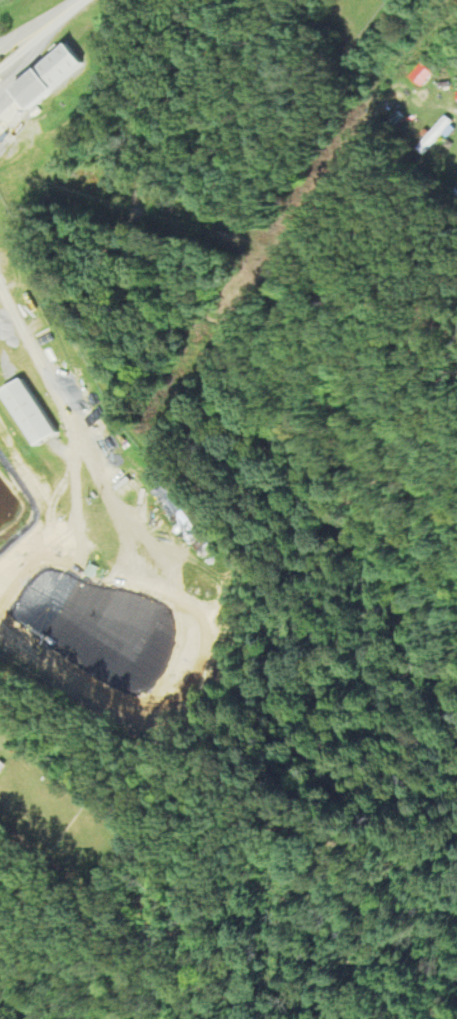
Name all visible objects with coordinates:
road: (34, 23)
building: (42, 76)
road: (451, 111)
road: (39, 362)
building: (28, 410)
building: (2, 766)

